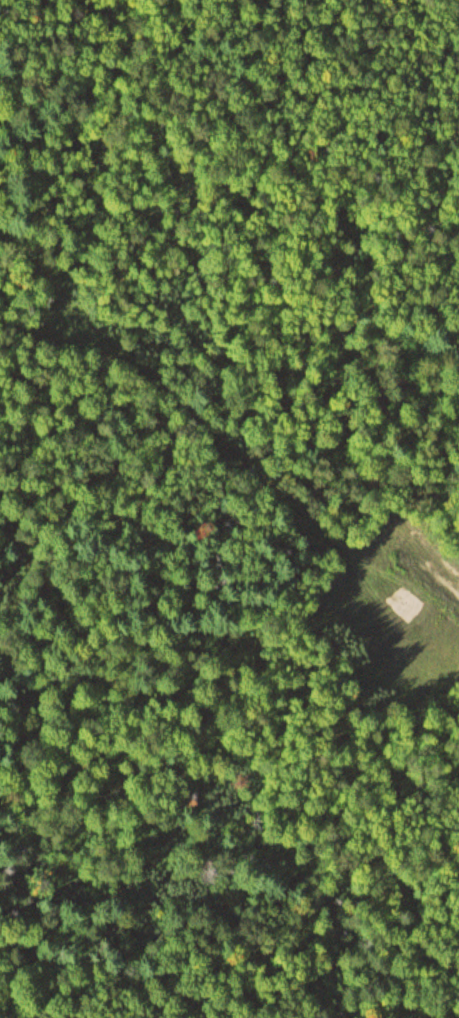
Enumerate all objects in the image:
road: (52, 282)
road: (200, 421)
petroleum well: (407, 600)

